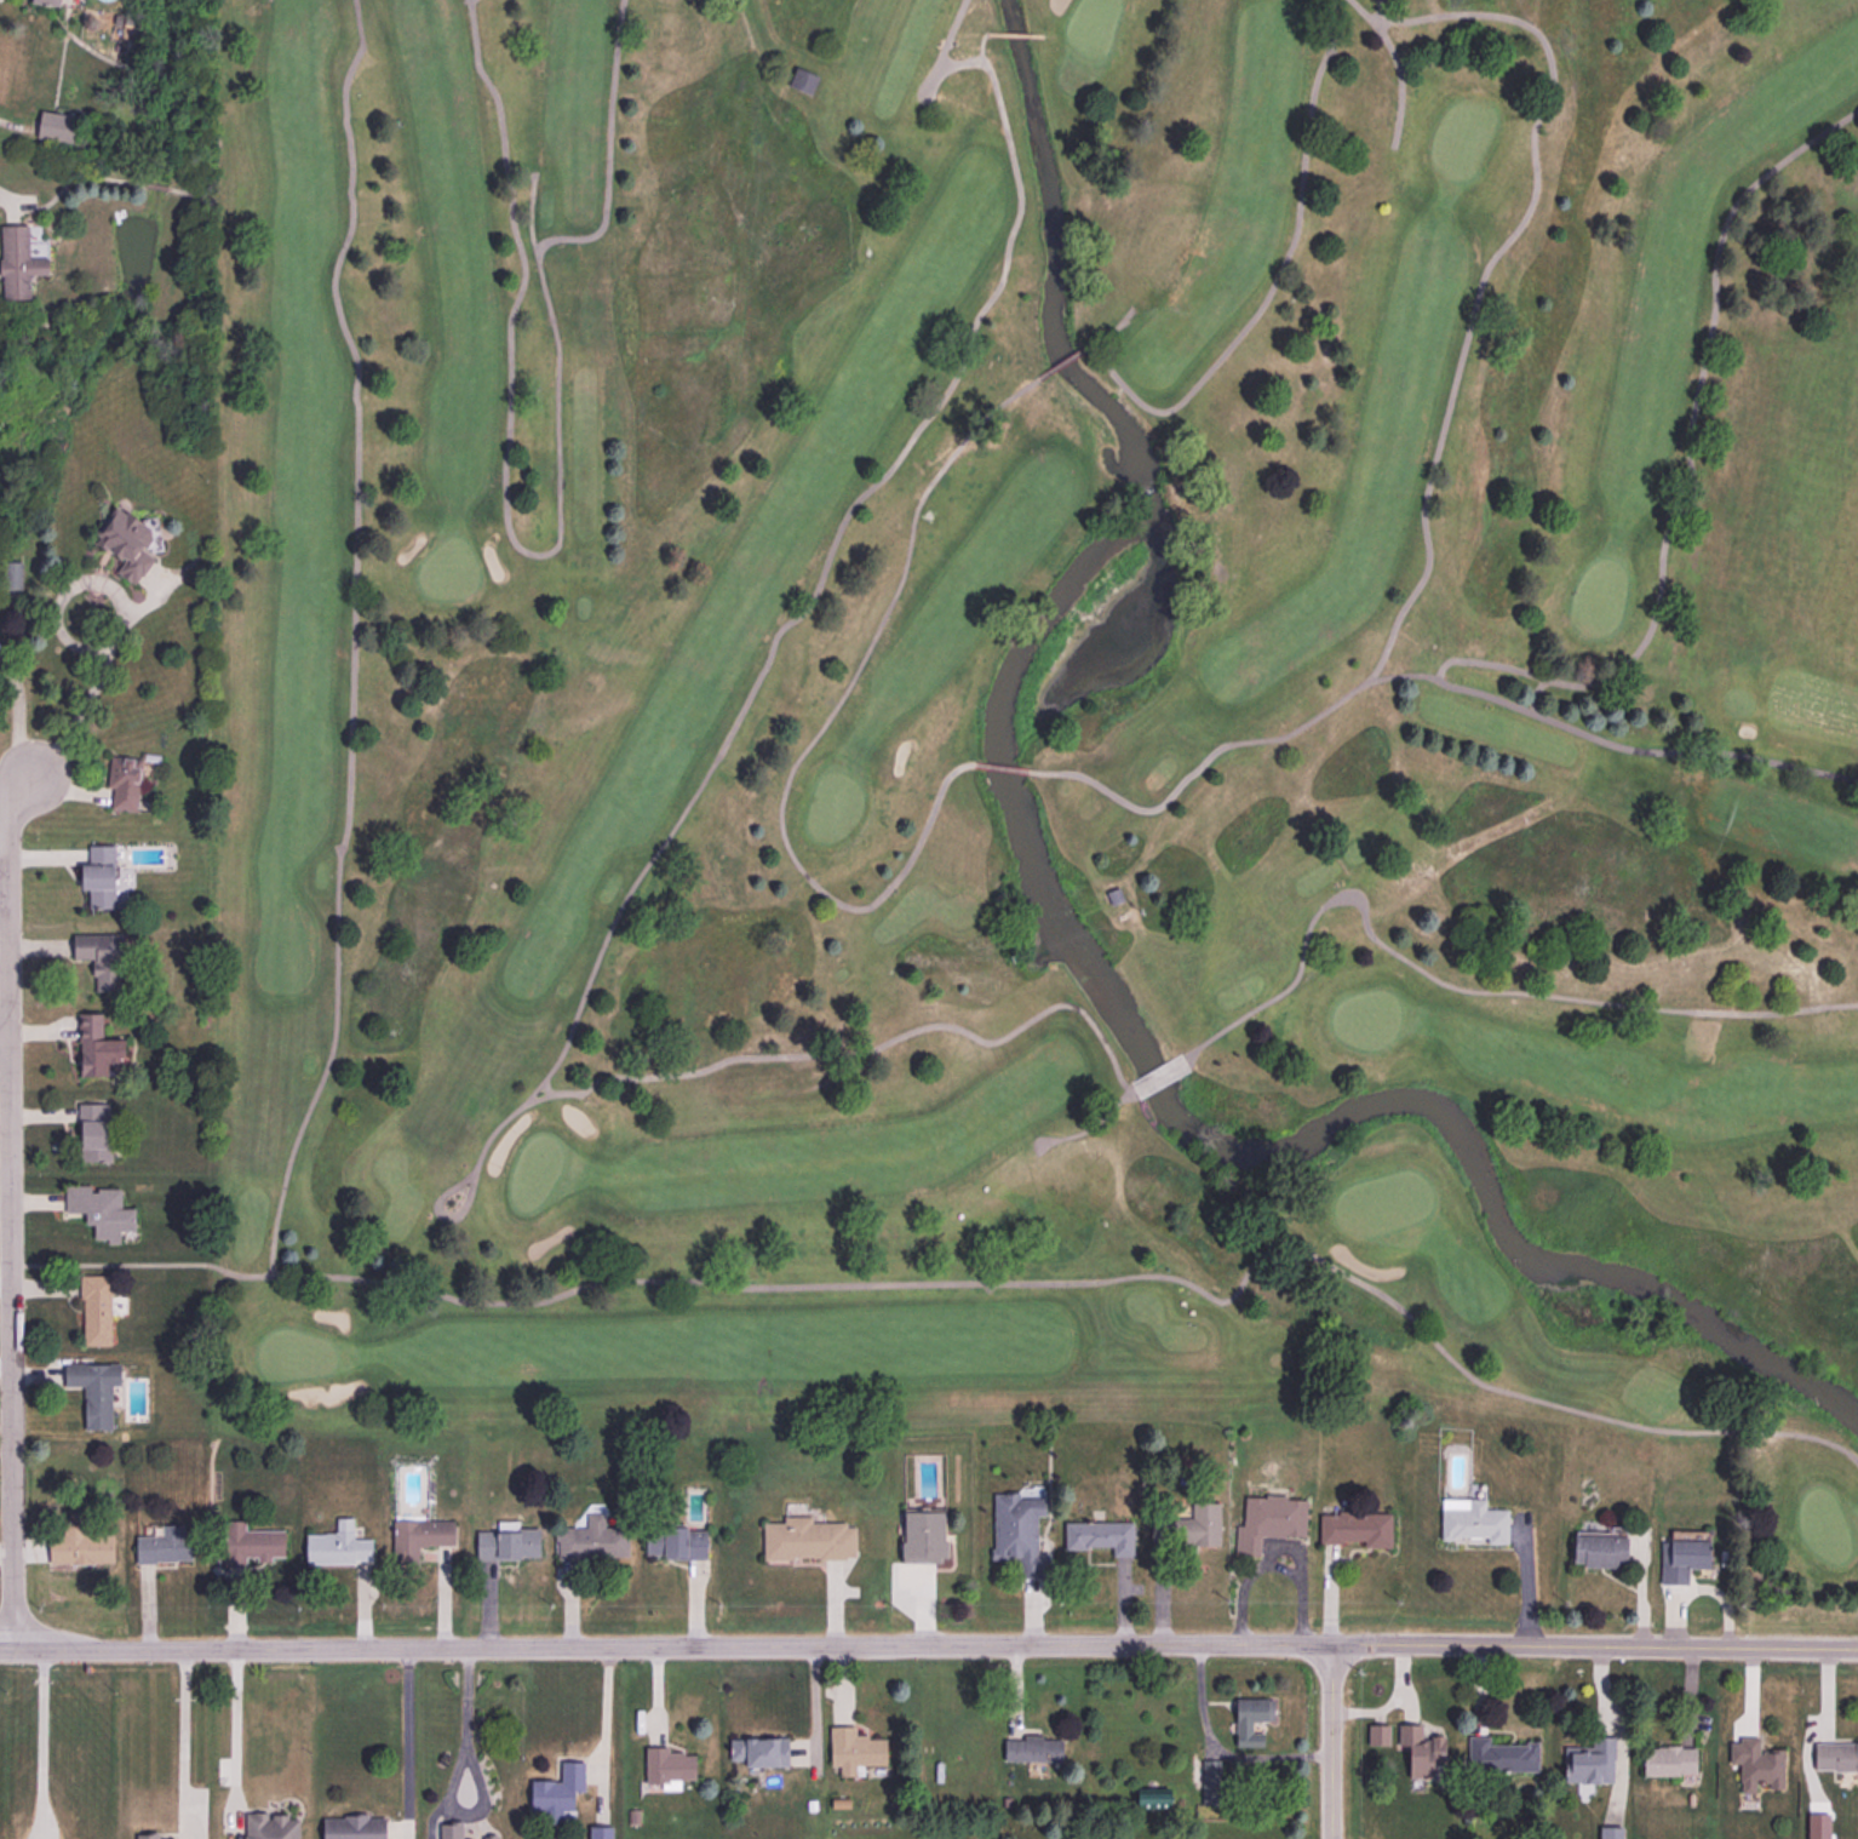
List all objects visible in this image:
building: (48, 1)
road: (980, 51)
road: (1397, 64)
building: (803, 80)
building: (56, 126)
building: (18, 262)
road: (1484, 270)
road: (1266, 293)
road: (1094, 343)
road: (1686, 464)
road: (849, 508)
building: (126, 543)
road: (555, 546)
building: (12, 574)
road: (1426, 676)
road: (88, 695)
park: (1032, 722)
road: (820, 727)
building: (99, 876)
building: (101, 958)
road: (1460, 989)
road: (5, 1035)
building: (97, 1045)
road: (804, 1054)
building: (94, 1132)
road: (10, 1208)
building: (101, 1210)
road: (459, 1300)
building: (96, 1310)
building: (94, 1390)
building: (1469, 1523)
building: (1267, 1524)
building: (1189, 1526)
building: (1353, 1531)
building: (1019, 1532)
building: (924, 1536)
building: (1101, 1536)
building: (420, 1537)
building: (808, 1539)
building: (593, 1540)
building: (676, 1542)
building: (507, 1543)
building: (247, 1545)
building: (338, 1545)
building: (80, 1546)
building: (165, 1546)
building: (1596, 1552)
building: (1680, 1559)
road: (928, 1645)
road: (602, 1713)
building: (1249, 1723)
road: (233, 1730)
road: (179, 1735)
building: (1376, 1737)
road: (41, 1741)
road: (405, 1741)
road: (1330, 1741)
building: (1034, 1749)
building: (759, 1751)
building: (854, 1751)
building: (1421, 1754)
building: (1499, 1757)
building: (1835, 1758)
building: (1667, 1763)
building: (1589, 1765)
building: (669, 1766)
building: (1755, 1768)
road: (452, 1775)
building: (1210, 1782)
building: (558, 1788)
building: (1153, 1798)
building: (270, 1826)
building: (354, 1827)
building: (451, 1831)
building: (600, 1832)
building: (1608, 1833)
building: (148, 1835)
building: (489, 1837)

